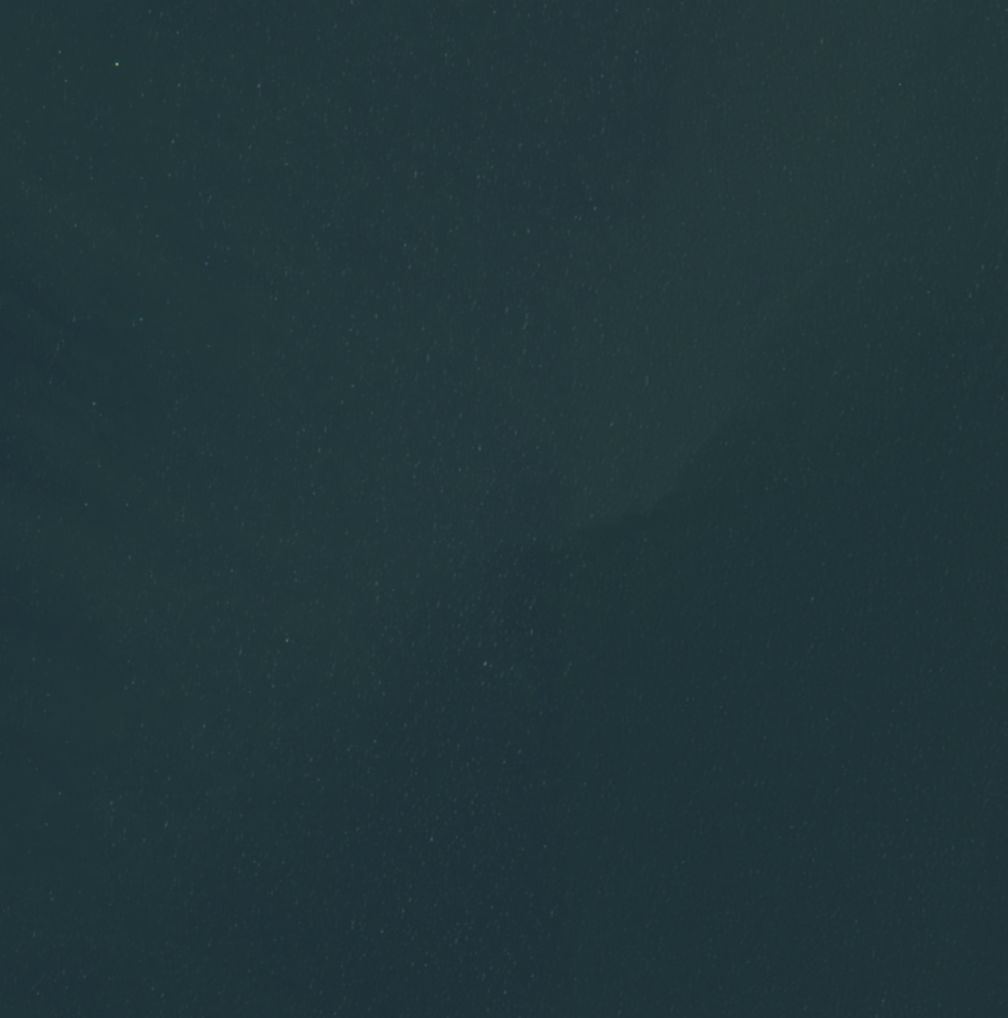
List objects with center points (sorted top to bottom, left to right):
river: (913, 583)

